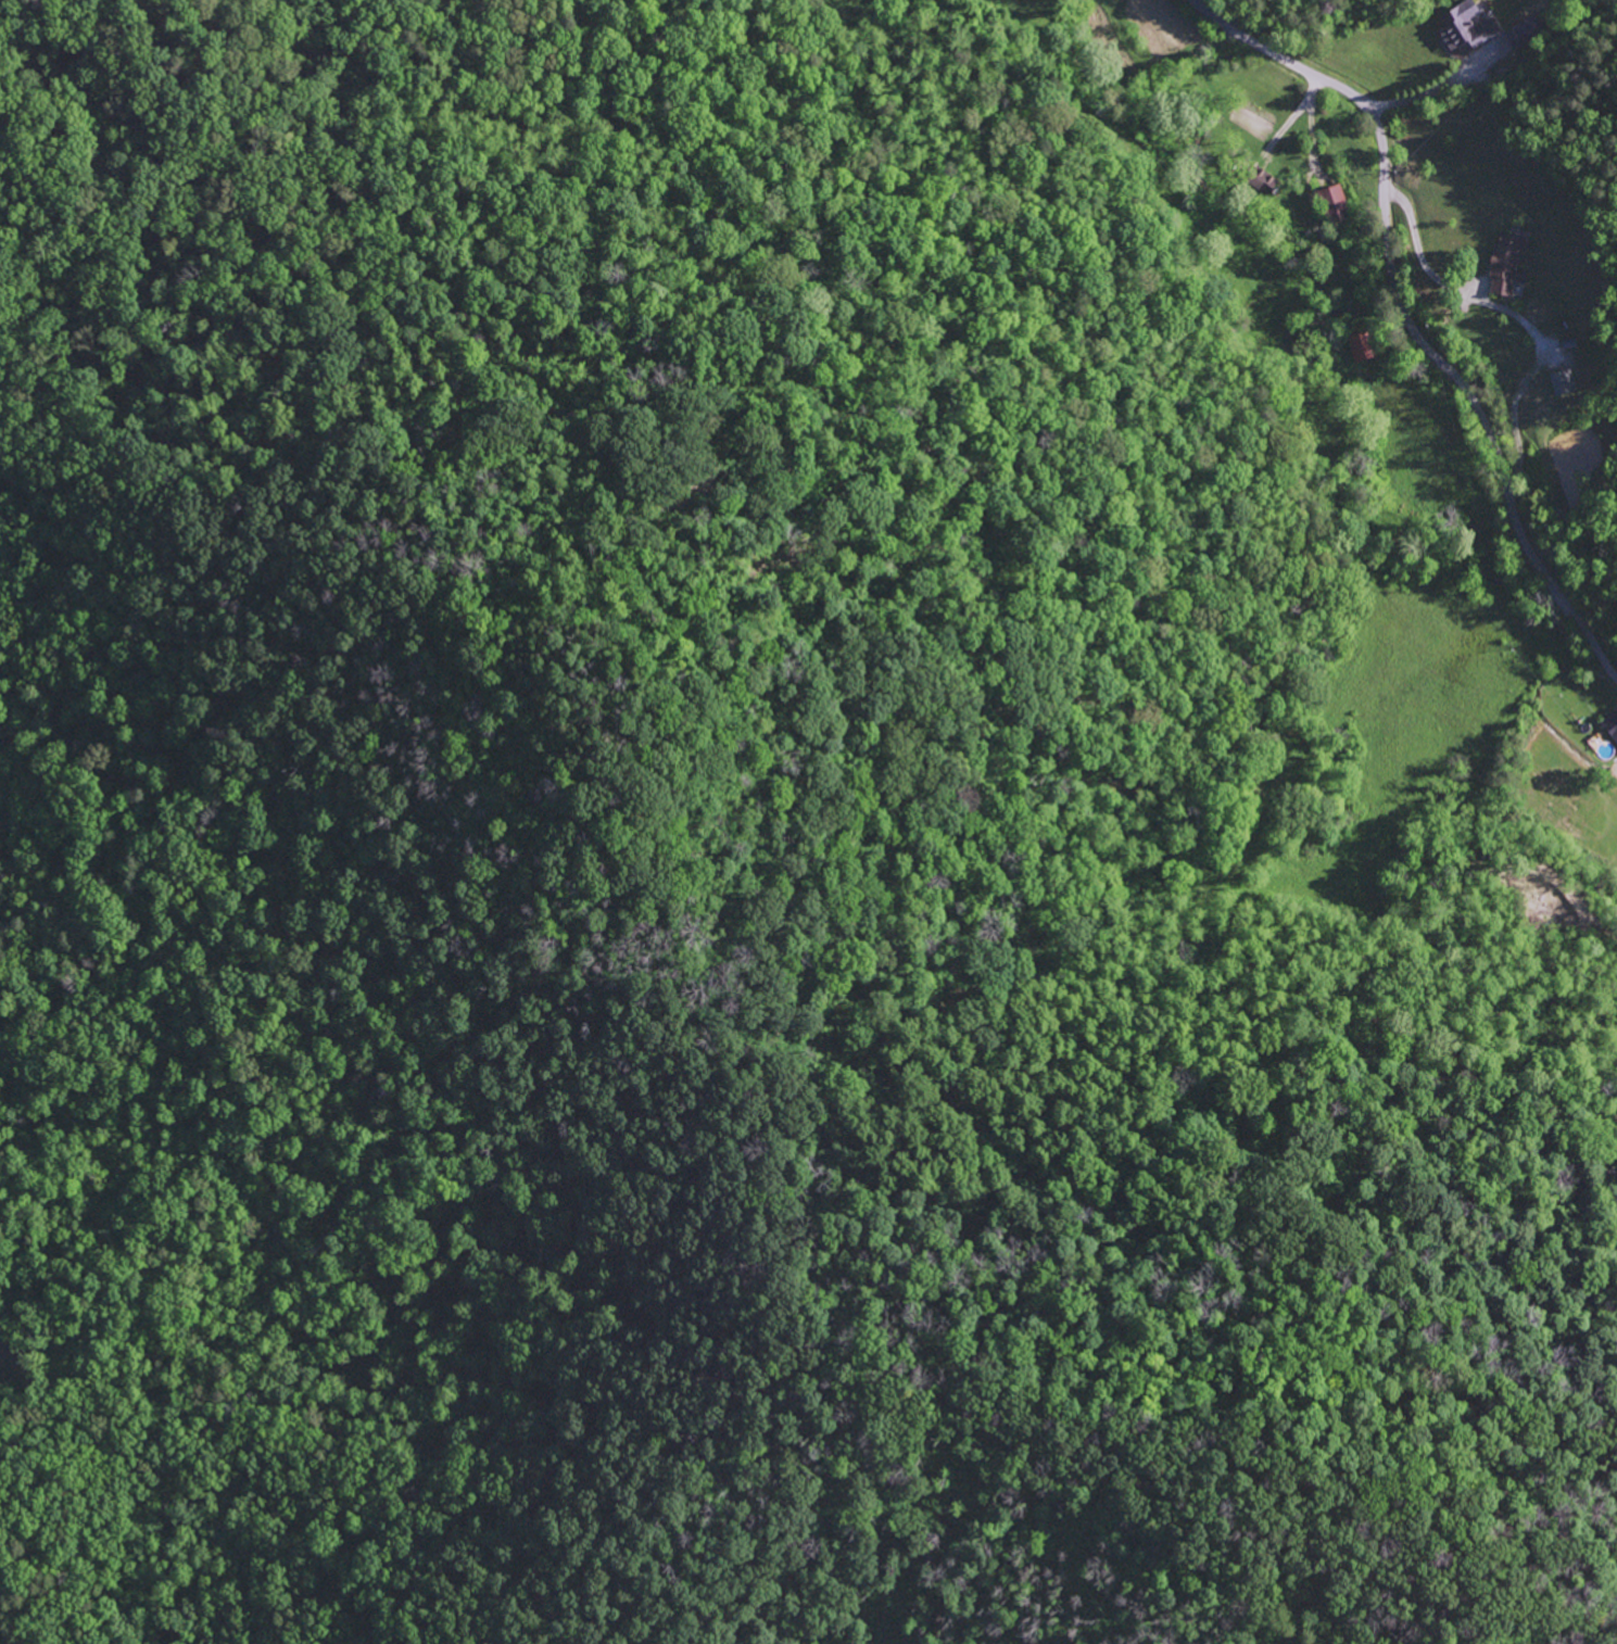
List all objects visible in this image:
road: (1491, 80)
building: (1329, 202)
road: (17, 260)
building: (1503, 265)
road: (1406, 317)

